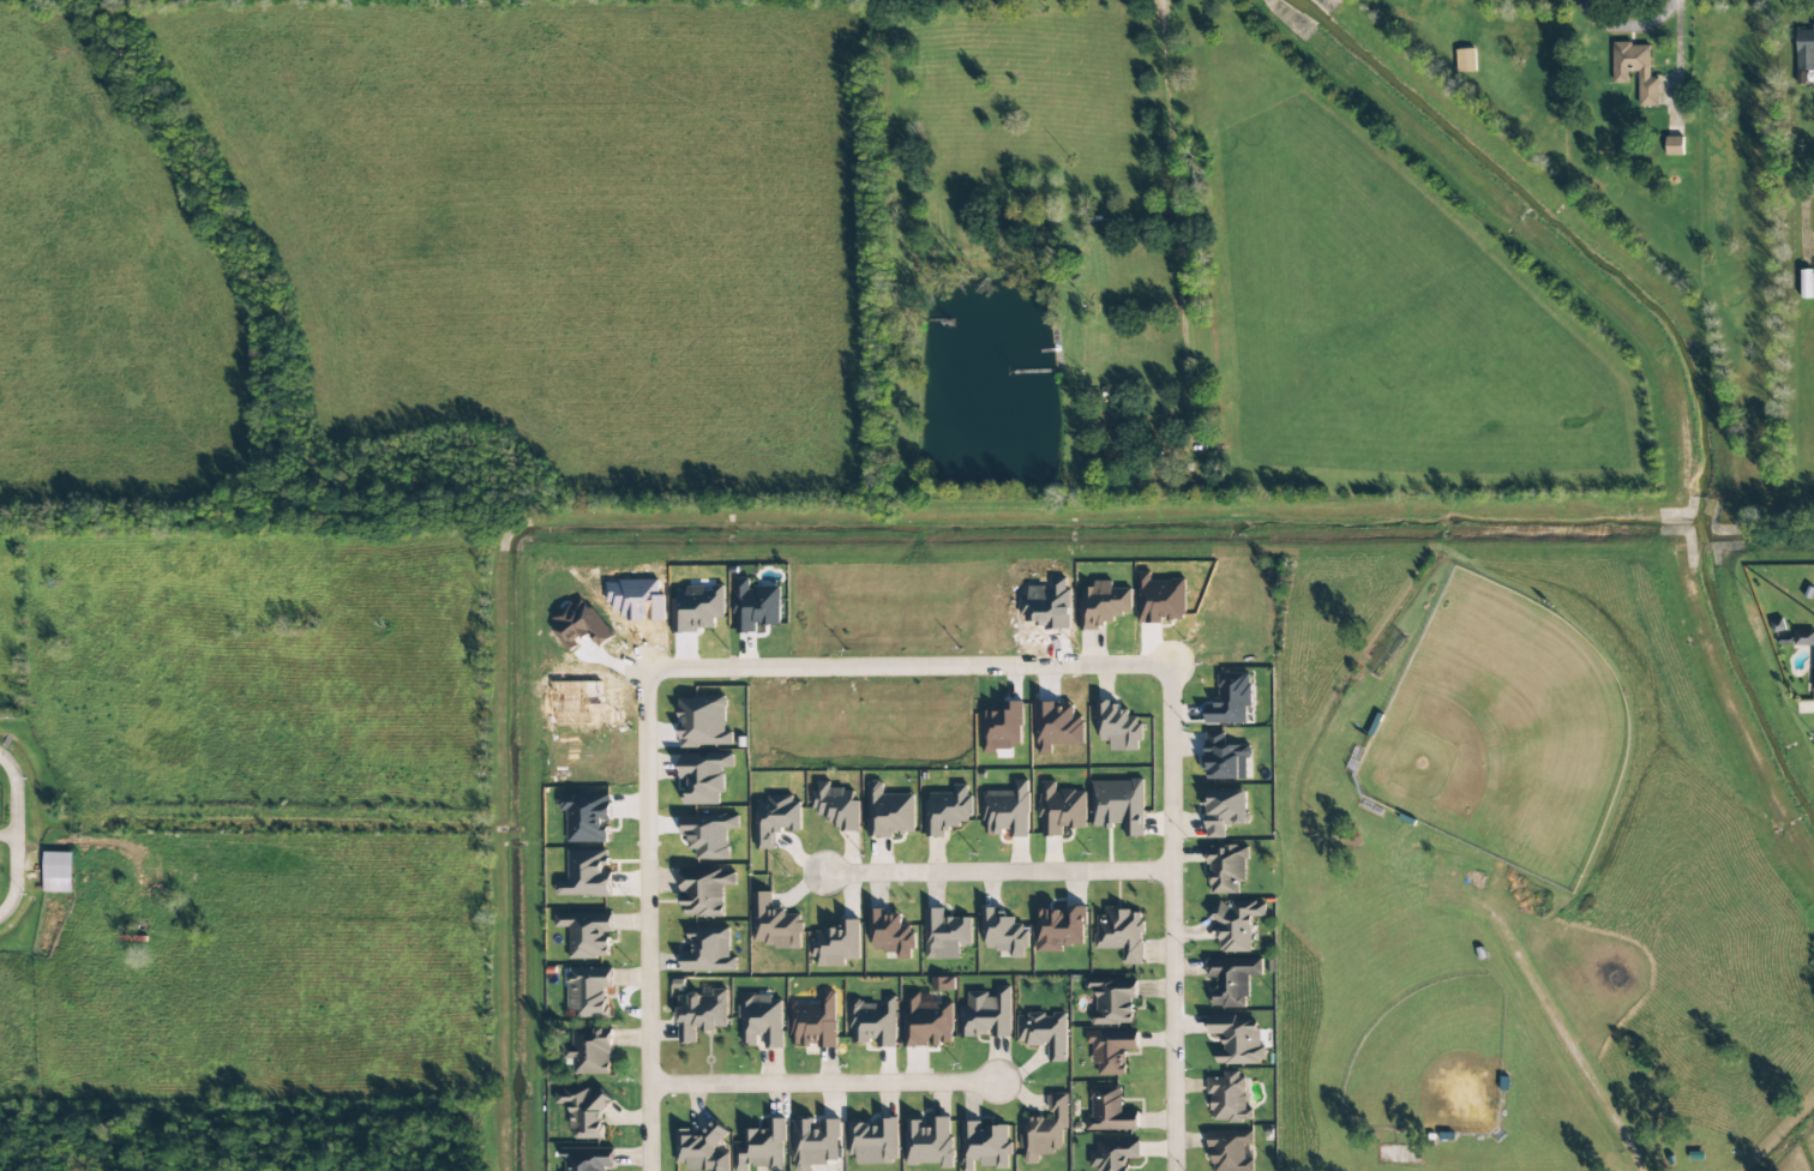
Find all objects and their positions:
building: (1804, 50)
building: (1466, 61)
building: (1635, 71)
building: (1674, 146)
building: (1806, 287)
building: (1103, 605)
building: (755, 606)
building: (1777, 625)
building: (1803, 638)
building: (1813, 666)
building: (1230, 699)
building: (704, 721)
building: (1057, 727)
building: (1118, 727)
building: (1002, 728)
building: (1225, 758)
building: (704, 777)
building: (1118, 805)
building: (836, 806)
building: (948, 810)
building: (1061, 810)
building: (1007, 811)
building: (1225, 811)
building: (889, 812)
building: (587, 817)
building: (775, 818)
building: (1226, 867)
road: (995, 869)
building: (58, 872)
building: (585, 873)
building: (705, 891)
road: (1169, 918)
building: (774, 924)
building: (1236, 925)
building: (1059, 929)
building: (587, 933)
building: (890, 933)
building: (1003, 933)
building: (1122, 933)
building: (945, 935)
building: (836, 944)
building: (709, 951)
building: (1232, 980)
building: (943, 984)
building: (588, 991)
building: (1113, 1001)
building: (701, 1014)
building: (986, 1014)
road: (647, 1017)
building: (761, 1020)
building: (813, 1022)
building: (873, 1022)
building: (926, 1022)
building: (1044, 1033)
building: (1237, 1039)
building: (1111, 1050)
building: (589, 1051)
road: (823, 1081)
building: (1229, 1098)
building: (1110, 1111)
building: (584, 1112)
building: (1045, 1130)
building: (873, 1141)
building: (815, 1142)
building: (929, 1142)
building: (984, 1146)
building: (762, 1147)
building: (702, 1149)
building: (1230, 1151)
building: (1113, 1154)
building: (588, 1164)

